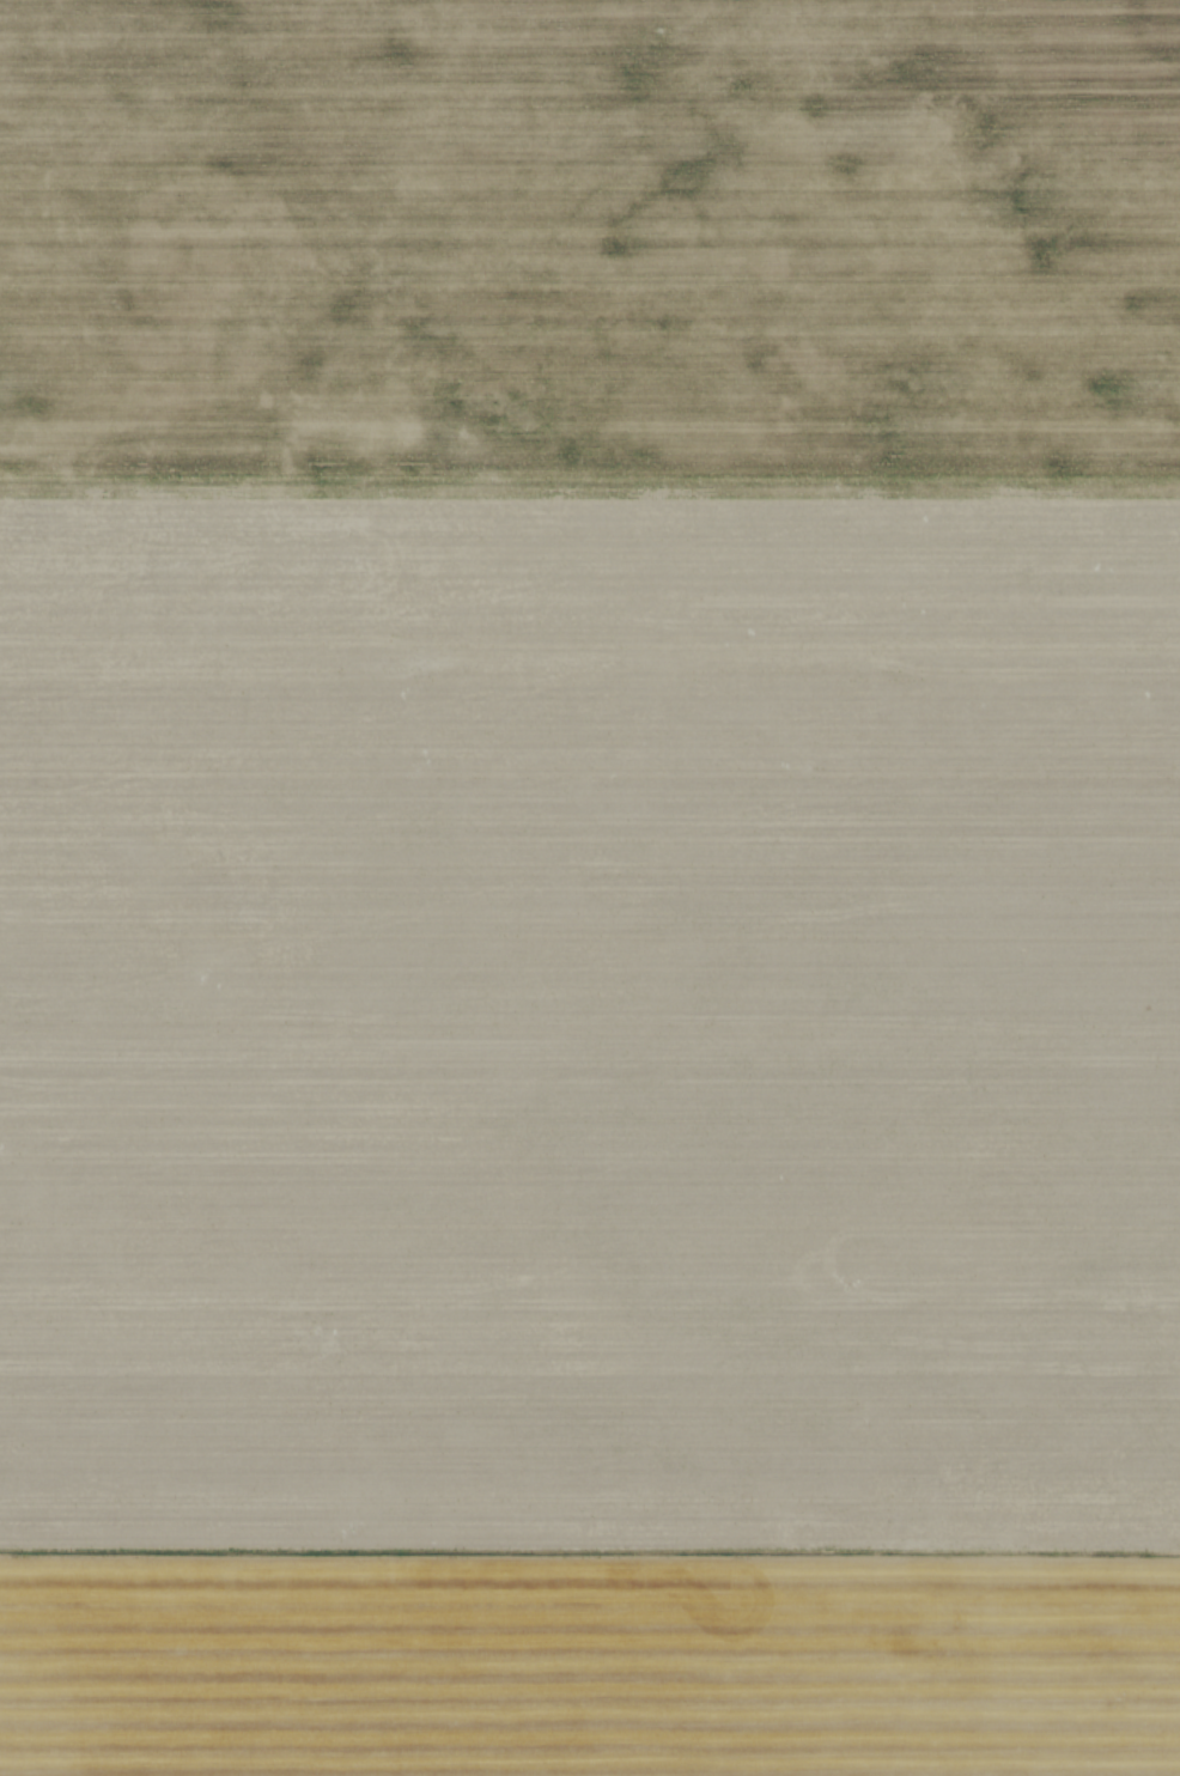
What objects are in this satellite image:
crop: (590, 888)

